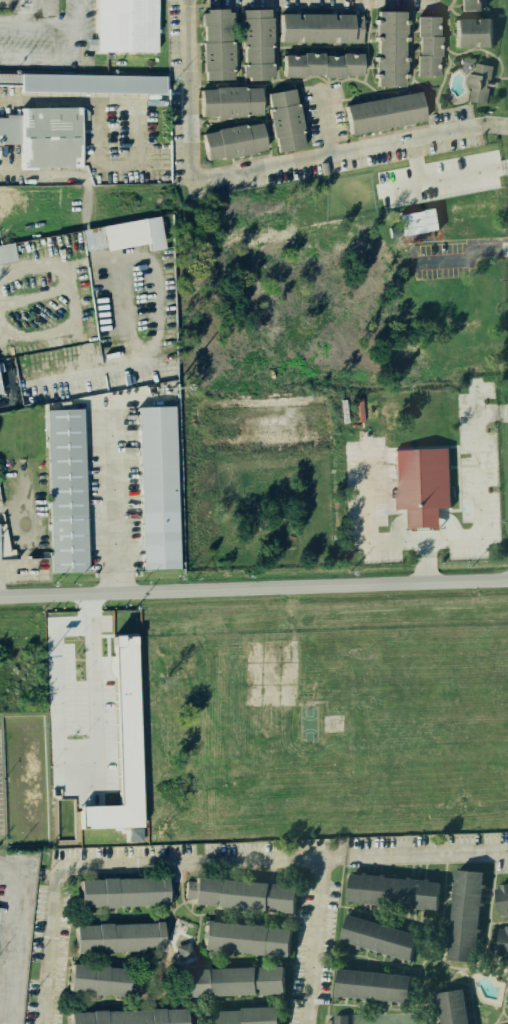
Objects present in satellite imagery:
building: (466, 5)
building: (121, 24)
building: (313, 28)
building: (472, 33)
road: (57, 34)
building: (215, 41)
building: (253, 41)
building: (420, 44)
building: (384, 46)
road: (34, 56)
building: (316, 63)
building: (481, 82)
building: (90, 83)
road: (192, 91)
building: (227, 99)
building: (378, 111)
building: (283, 120)
road: (328, 125)
building: (43, 137)
building: (231, 141)
road: (355, 151)
road: (444, 177)
building: (80, 241)
building: (0, 391)
building: (422, 485)
building: (158, 487)
building: (65, 489)
building: (1, 504)
road: (112, 506)
road: (480, 508)
road: (367, 525)
road: (21, 539)
building: (5, 544)
road: (4, 583)
road: (254, 589)
road: (293, 651)
road: (94, 685)
building: (122, 745)
road: (196, 855)
road: (7, 864)
building: (390, 887)
building: (116, 892)
building: (239, 894)
building: (502, 903)
building: (462, 916)
road: (7, 934)
building: (112, 936)
building: (244, 938)
building: (372, 938)
road: (314, 939)
building: (181, 949)
building: (503, 949)
building: (100, 978)
building: (228, 982)
building: (366, 984)
building: (507, 991)
building: (450, 1006)
building: (123, 1016)
building: (240, 1016)
building: (340, 1019)
road: (1, 1020)
building: (384, 1020)

